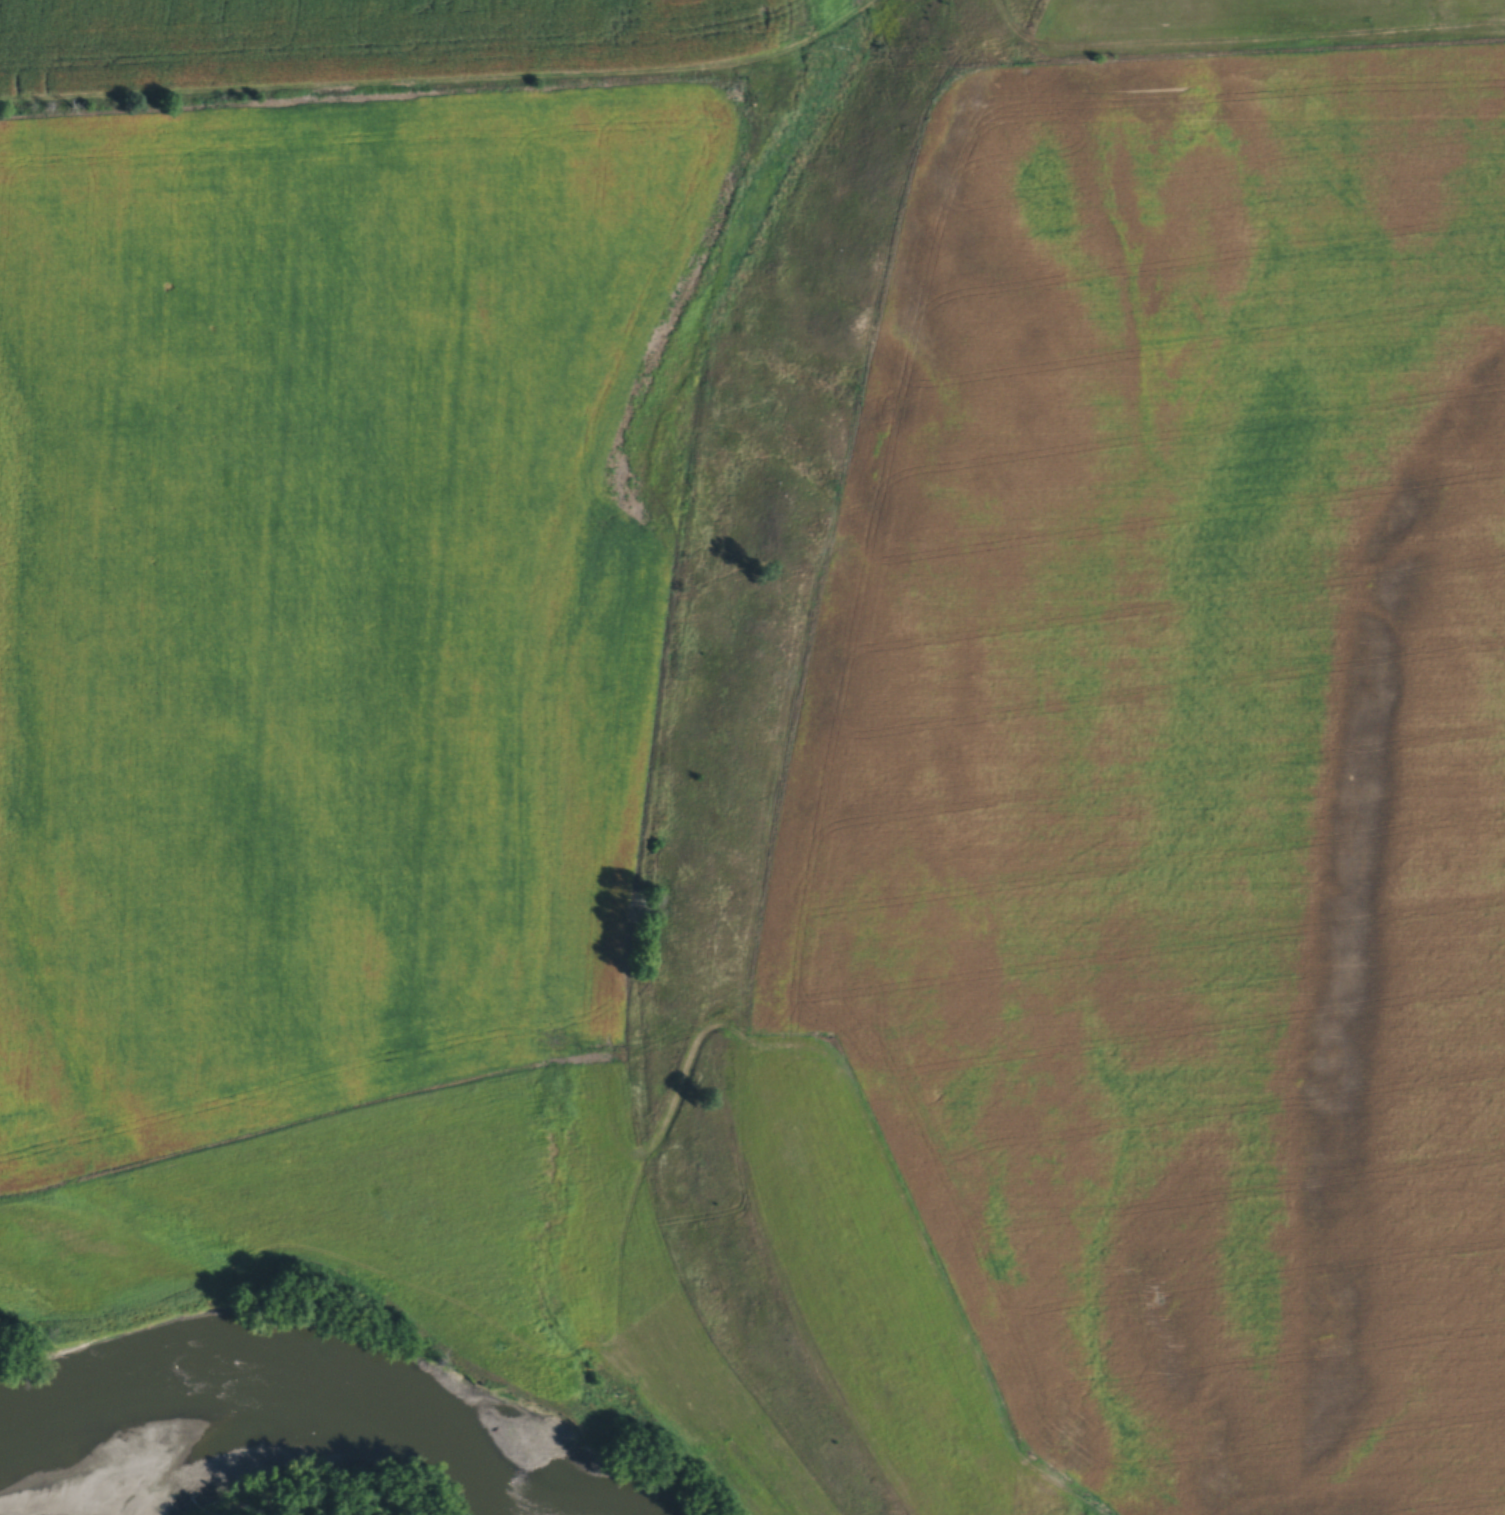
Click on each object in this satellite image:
river: (300, 1395)

